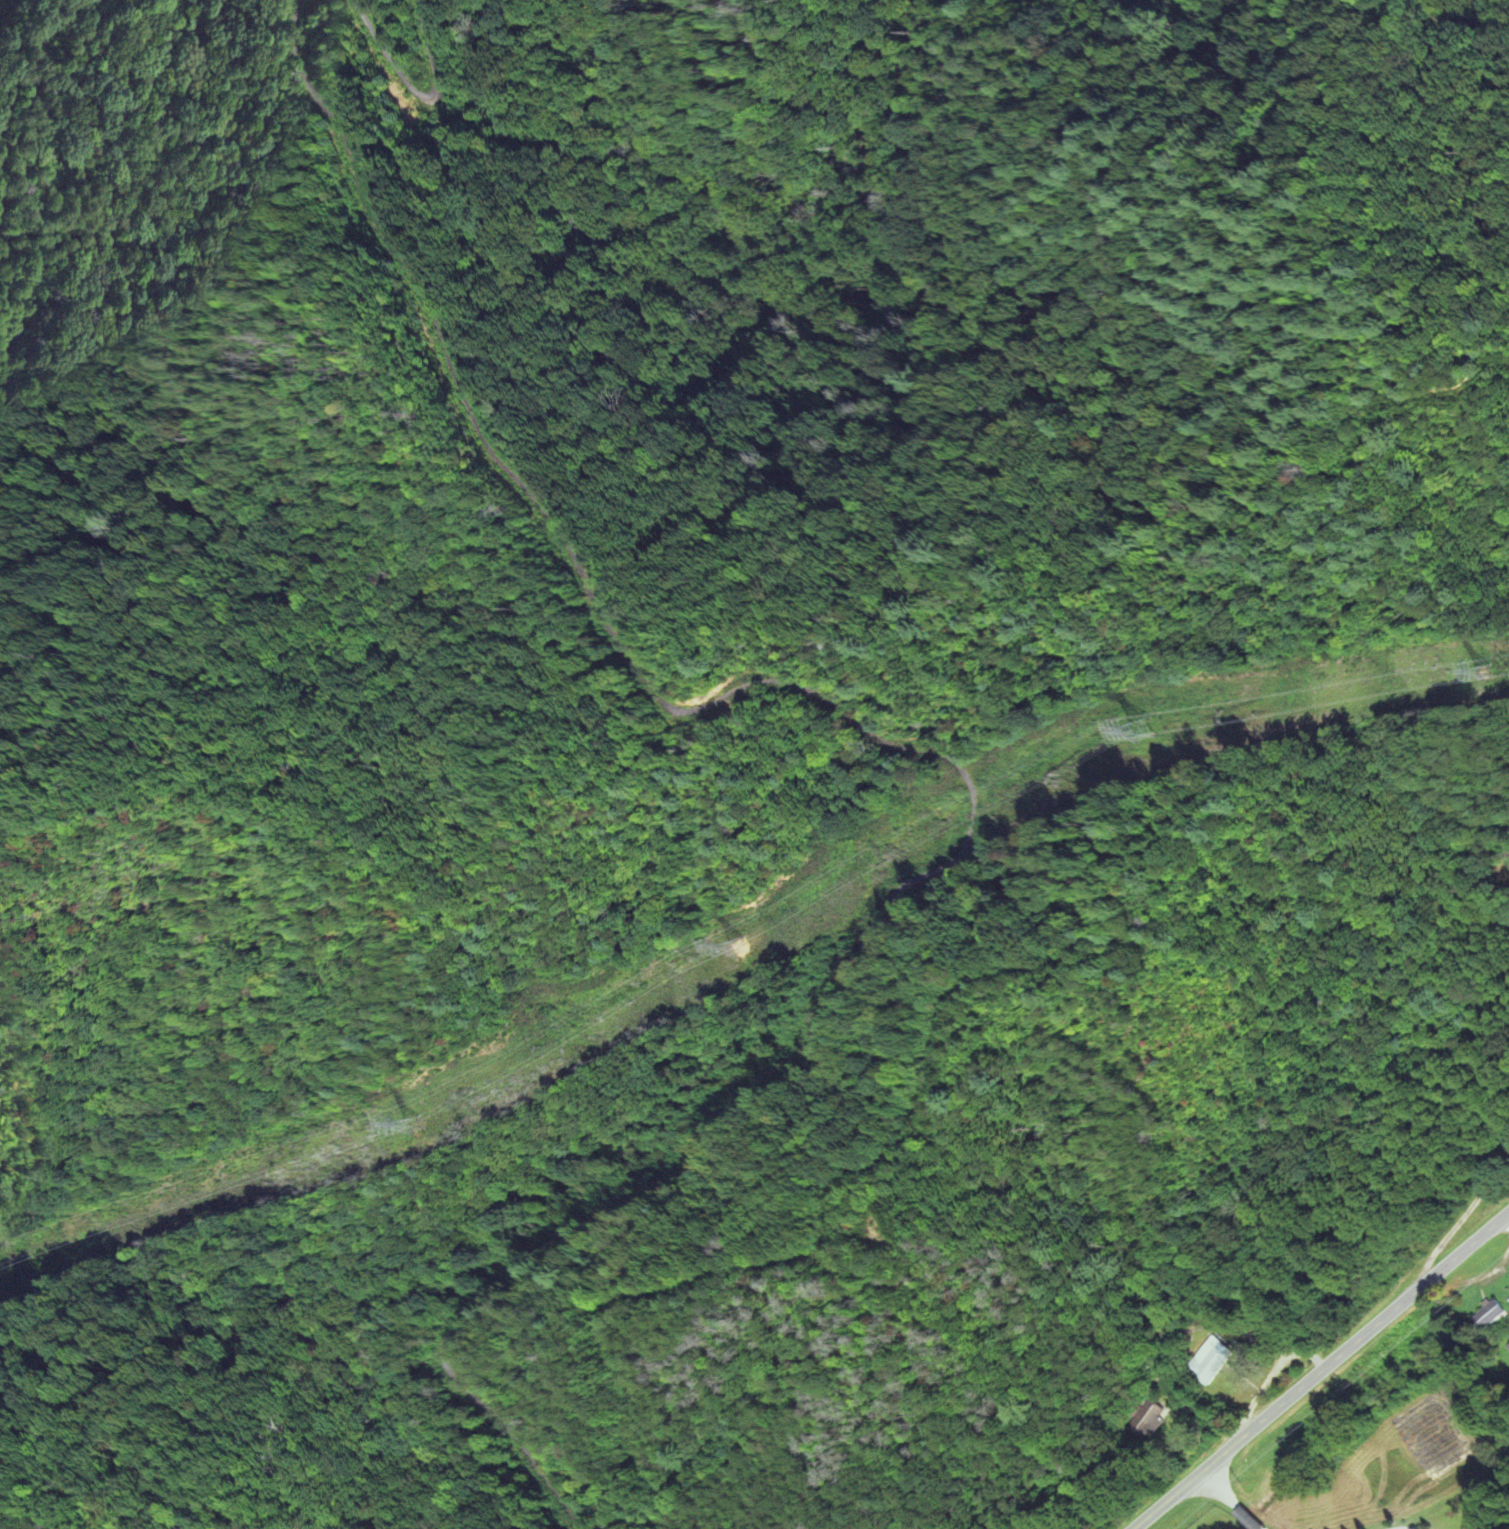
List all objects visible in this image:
road: (20, 34)
road: (417, 95)
river: (753, 260)
power tower: (1138, 732)
road: (921, 751)
power tower: (408, 1123)
building: (1489, 1318)
building: (1213, 1363)
road: (1320, 1370)
building: (1150, 1424)
road: (1233, 1499)
road: (1402, 1528)
road: (1405, 1528)

